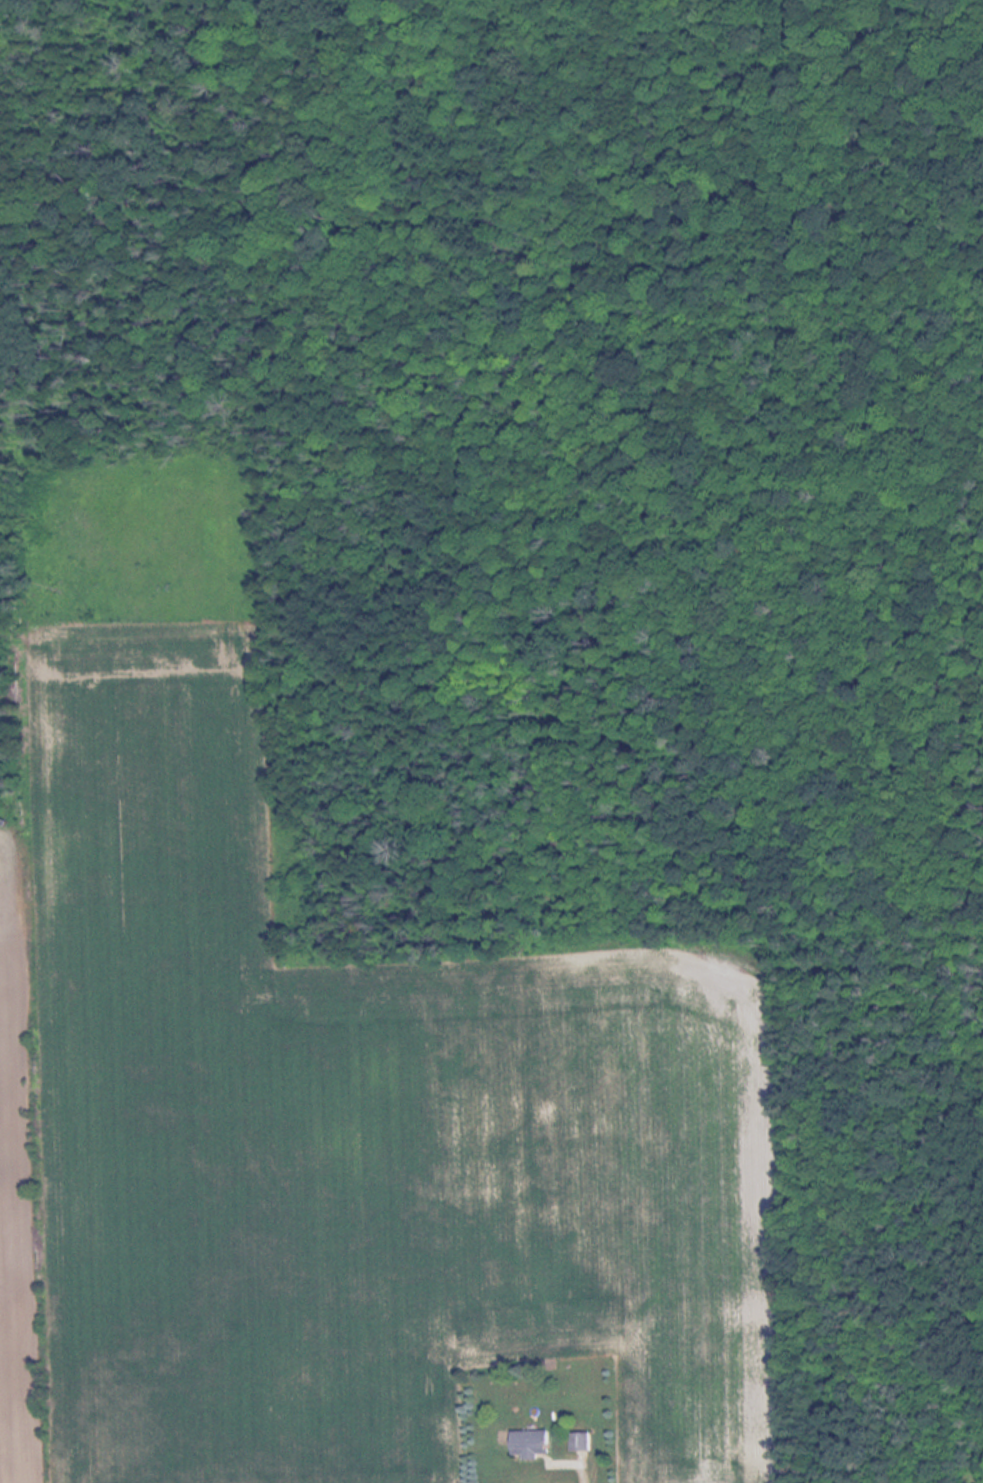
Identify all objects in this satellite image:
building: (583, 1442)
building: (534, 1444)

